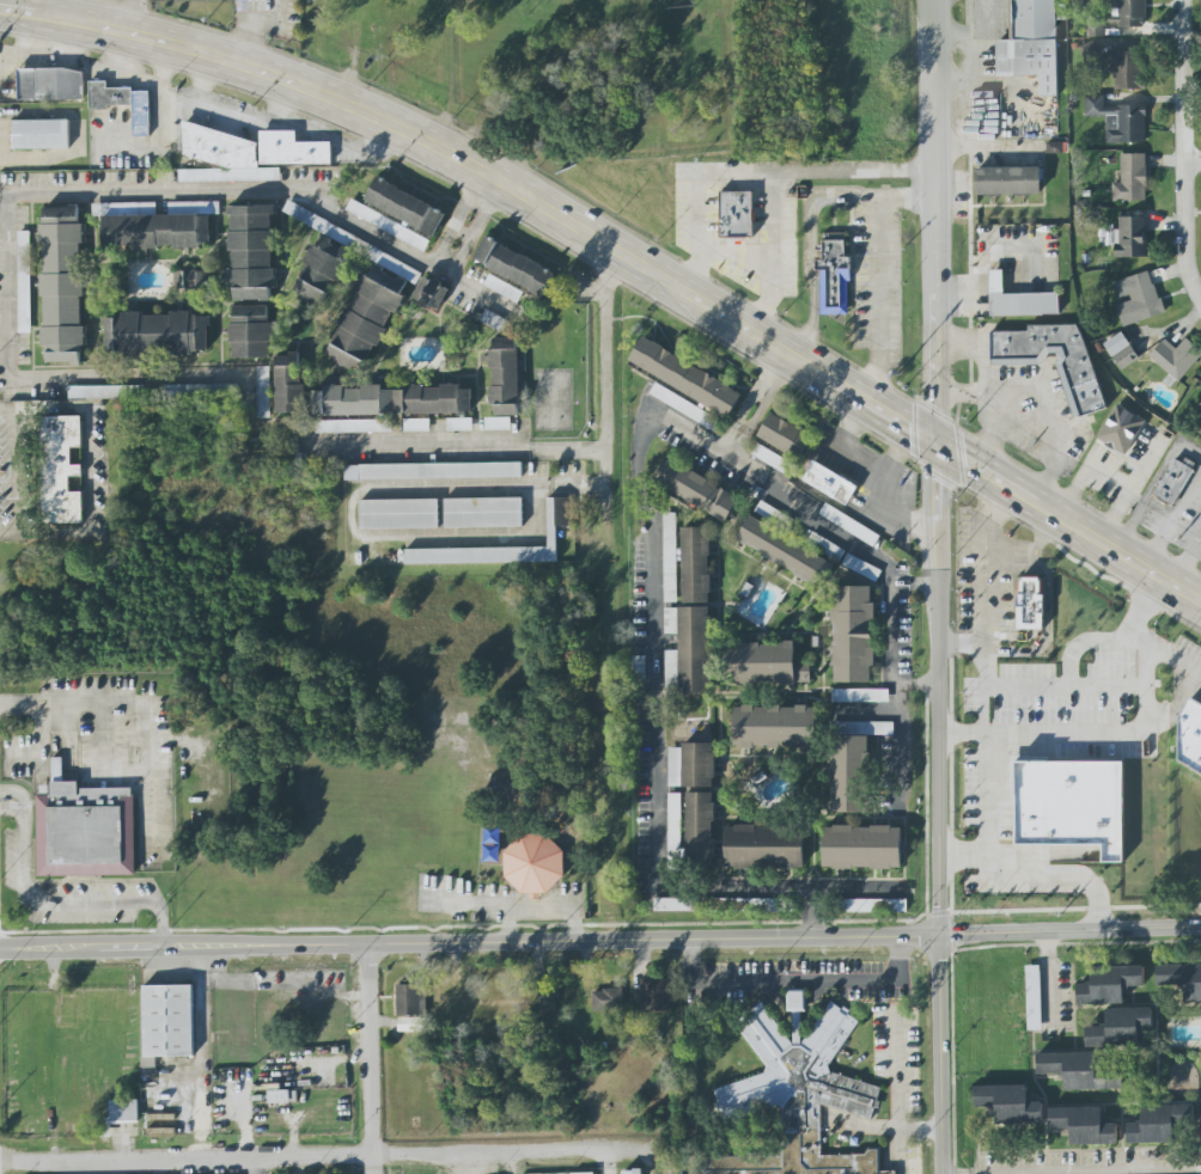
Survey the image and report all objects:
building: (1128, 12)
road: (132, 18)
road: (252, 24)
building: (1031, 44)
building: (1127, 69)
building: (51, 85)
road: (934, 85)
building: (123, 104)
building: (1118, 120)
building: (39, 135)
road: (1183, 147)
building: (291, 151)
road: (1191, 160)
road: (754, 170)
building: (227, 176)
building: (1130, 179)
building: (1005, 182)
road: (935, 183)
road: (246, 191)
building: (406, 207)
road: (471, 213)
building: (734, 216)
building: (319, 224)
building: (157, 225)
building: (385, 226)
building: (1132, 237)
road: (810, 249)
building: (251, 252)
road: (738, 255)
road: (774, 255)
road: (622, 259)
building: (513, 265)
building: (322, 271)
road: (937, 271)
building: (834, 276)
road: (880, 276)
building: (190, 280)
building: (24, 281)
building: (62, 283)
building: (502, 288)
building: (431, 293)
road: (1199, 296)
building: (1138, 299)
building: (1017, 301)
building: (371, 311)
building: (251, 331)
building: (157, 334)
building: (1115, 344)
building: (1175, 357)
building: (1054, 361)
road: (37, 377)
building: (505, 377)
building: (685, 377)
building: (289, 383)
building: (201, 390)
road: (992, 391)
building: (106, 392)
building: (263, 392)
road: (762, 392)
building: (397, 400)
building: (685, 406)
building: (498, 423)
building: (416, 424)
building: (459, 424)
building: (354, 426)
building: (1118, 430)
building: (785, 435)
road: (1054, 446)
traffic signals: (939, 448)
road: (553, 450)
building: (770, 459)
road: (861, 465)
road: (86, 469)
building: (60, 470)
building: (432, 471)
building: (1175, 481)
building: (828, 483)
road: (1151, 485)
road: (505, 488)
building: (696, 489)
building: (483, 513)
building: (398, 514)
building: (773, 515)
road: (902, 515)
road: (1170, 520)
building: (849, 525)
building: (553, 537)
road: (1194, 544)
building: (824, 546)
road: (862, 546)
road: (1181, 549)
building: (785, 551)
road: (1026, 555)
building: (669, 558)
building: (696, 564)
building: (861, 568)
building: (1030, 603)
road: (981, 609)
building: (669, 622)
building: (853, 634)
road: (961, 647)
building: (695, 649)
road: (1142, 655)
road: (1171, 658)
building: (764, 664)
building: (638, 668)
building: (671, 669)
road: (1068, 675)
road: (927, 681)
building: (860, 695)
road: (154, 703)
road: (0, 707)
road: (653, 707)
road: (865, 711)
building: (775, 727)
building: (866, 728)
road: (1042, 734)
building: (1191, 735)
road: (902, 739)
road: (941, 759)
building: (675, 766)
building: (848, 774)
road: (14, 791)
building: (699, 801)
building: (1069, 803)
road: (12, 808)
building: (675, 825)
building: (85, 828)
building: (764, 846)
building: (862, 846)
road: (964, 860)
building: (535, 864)
road: (996, 870)
road: (812, 898)
road: (69, 904)
building: (678, 904)
building: (872, 905)
road: (537, 911)
road: (812, 922)
road: (599, 938)
building: (1182, 979)
road: (798, 983)
road: (1047, 984)
building: (1109, 984)
building: (654, 995)
building: (1031, 998)
building: (409, 999)
building: (608, 999)
building: (797, 1001)
building: (545, 1003)
building: (167, 1021)
building: (1120, 1027)
road: (373, 1058)
building: (1077, 1070)
road: (897, 1096)
building: (799, 1097)
building: (1010, 1103)
building: (118, 1115)
building: (1158, 1124)
building: (1084, 1125)
road: (900, 1155)
road: (327, 1156)
road: (605, 1162)
road: (255, 1166)
building: (632, 1172)
road: (1152, 1172)
building: (583, 1173)

